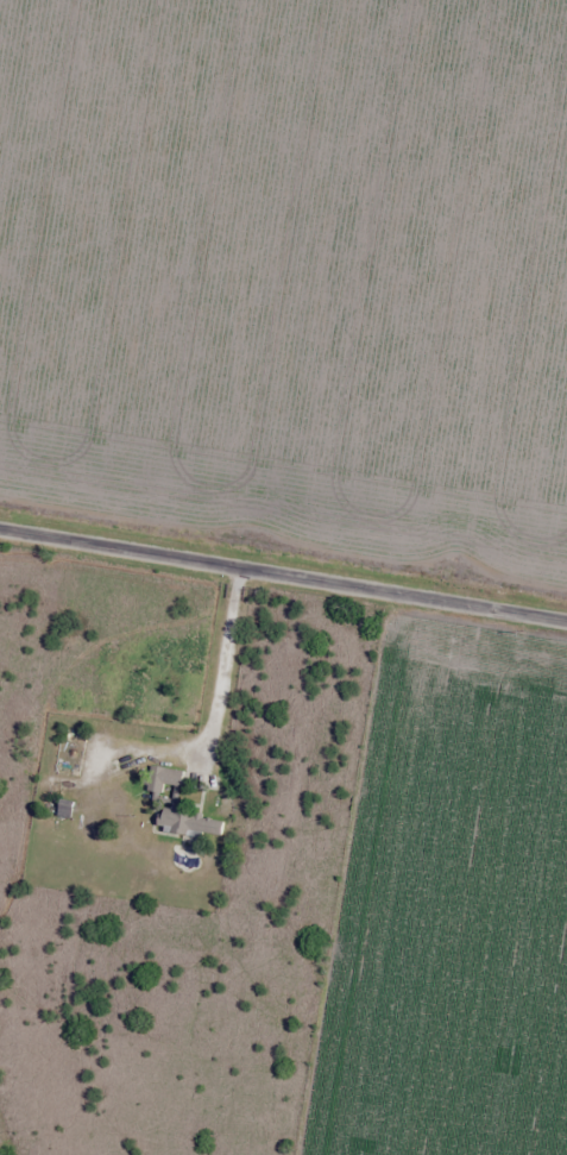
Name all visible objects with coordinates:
road: (283, 575)
building: (163, 778)
building: (64, 809)
building: (188, 823)

